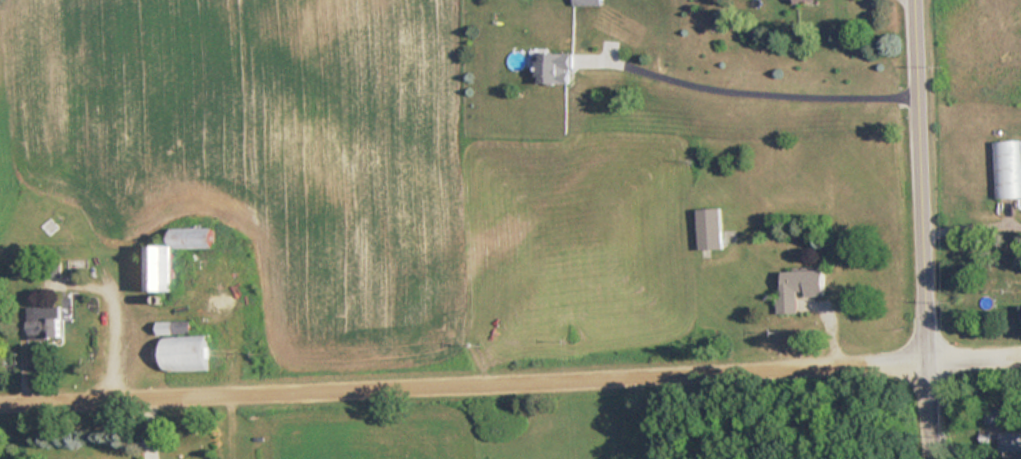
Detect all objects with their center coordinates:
building: (801, 1)
building: (585, 2)
building: (552, 67)
road: (757, 78)
building: (1006, 170)
road: (972, 212)
building: (708, 229)
road: (924, 229)
building: (169, 256)
building: (798, 288)
building: (1020, 314)
building: (42, 324)
building: (178, 347)
road: (510, 372)
building: (995, 418)

